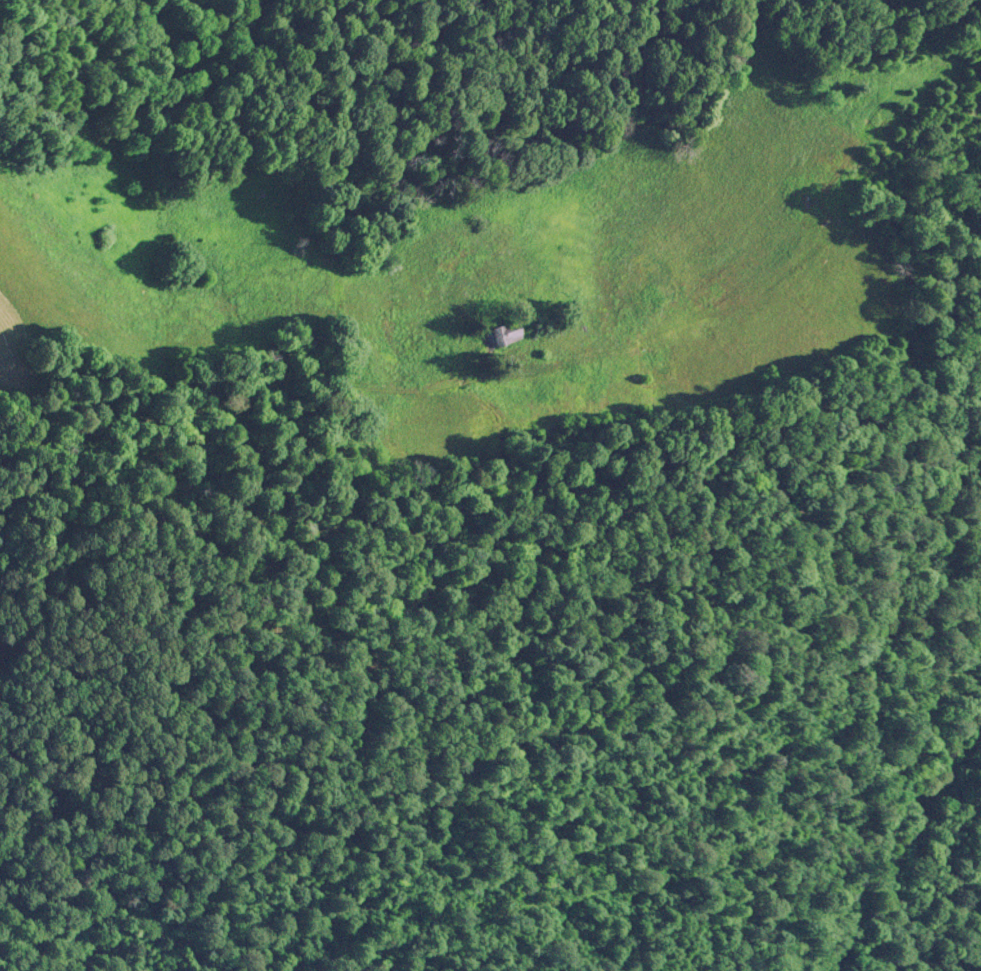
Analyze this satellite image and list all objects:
building: (501, 331)
road: (350, 377)

